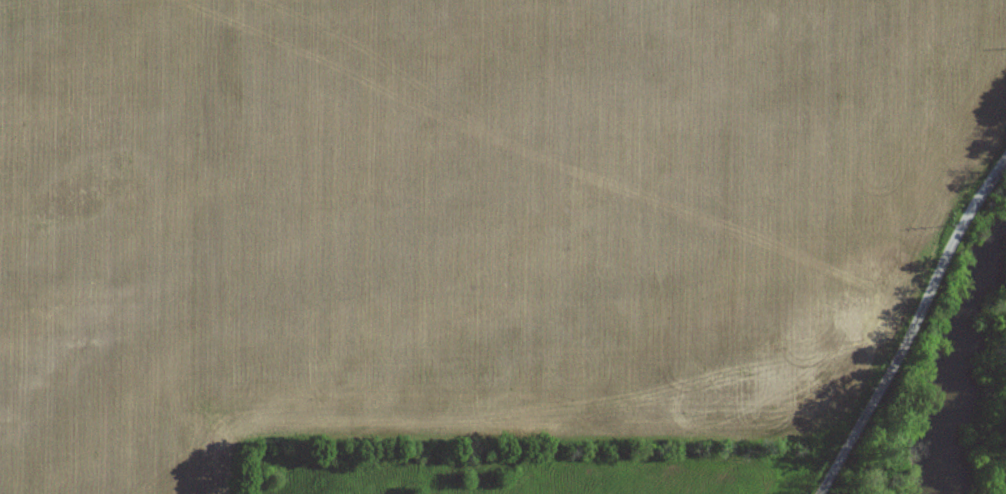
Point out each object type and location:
road: (913, 325)
river: (959, 363)

